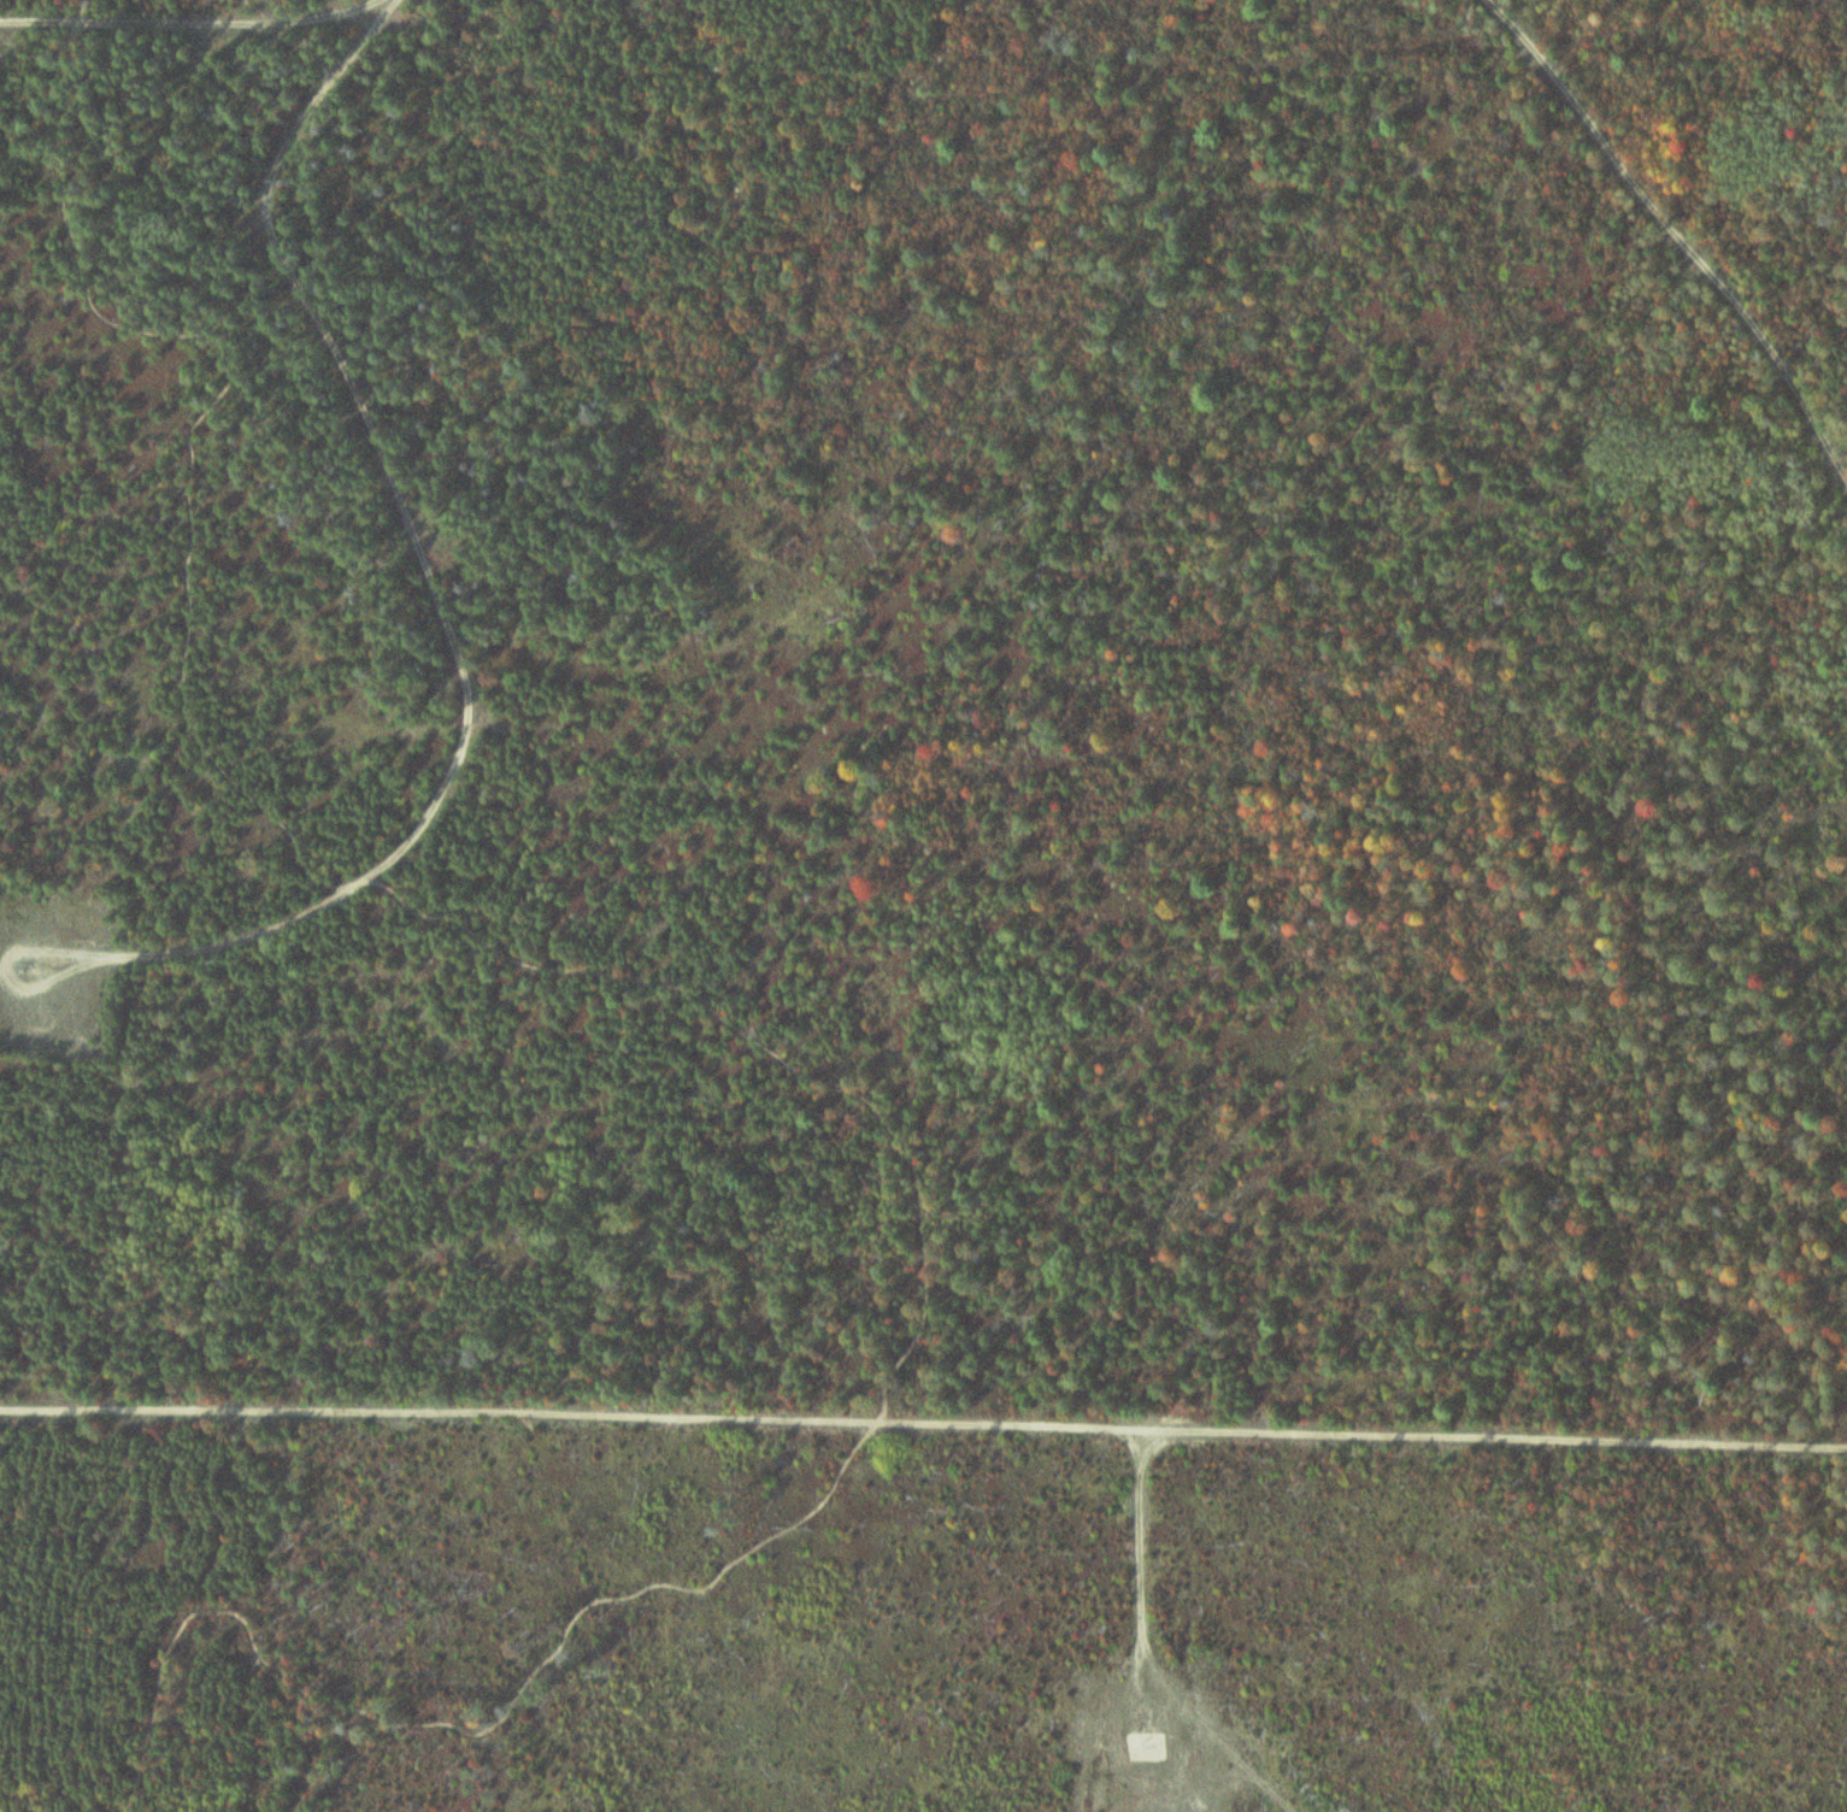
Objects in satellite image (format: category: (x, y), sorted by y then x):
road: (194, 18)
road: (1681, 219)
road: (418, 552)
road: (8, 972)
road: (743, 1041)
road: (923, 1424)

